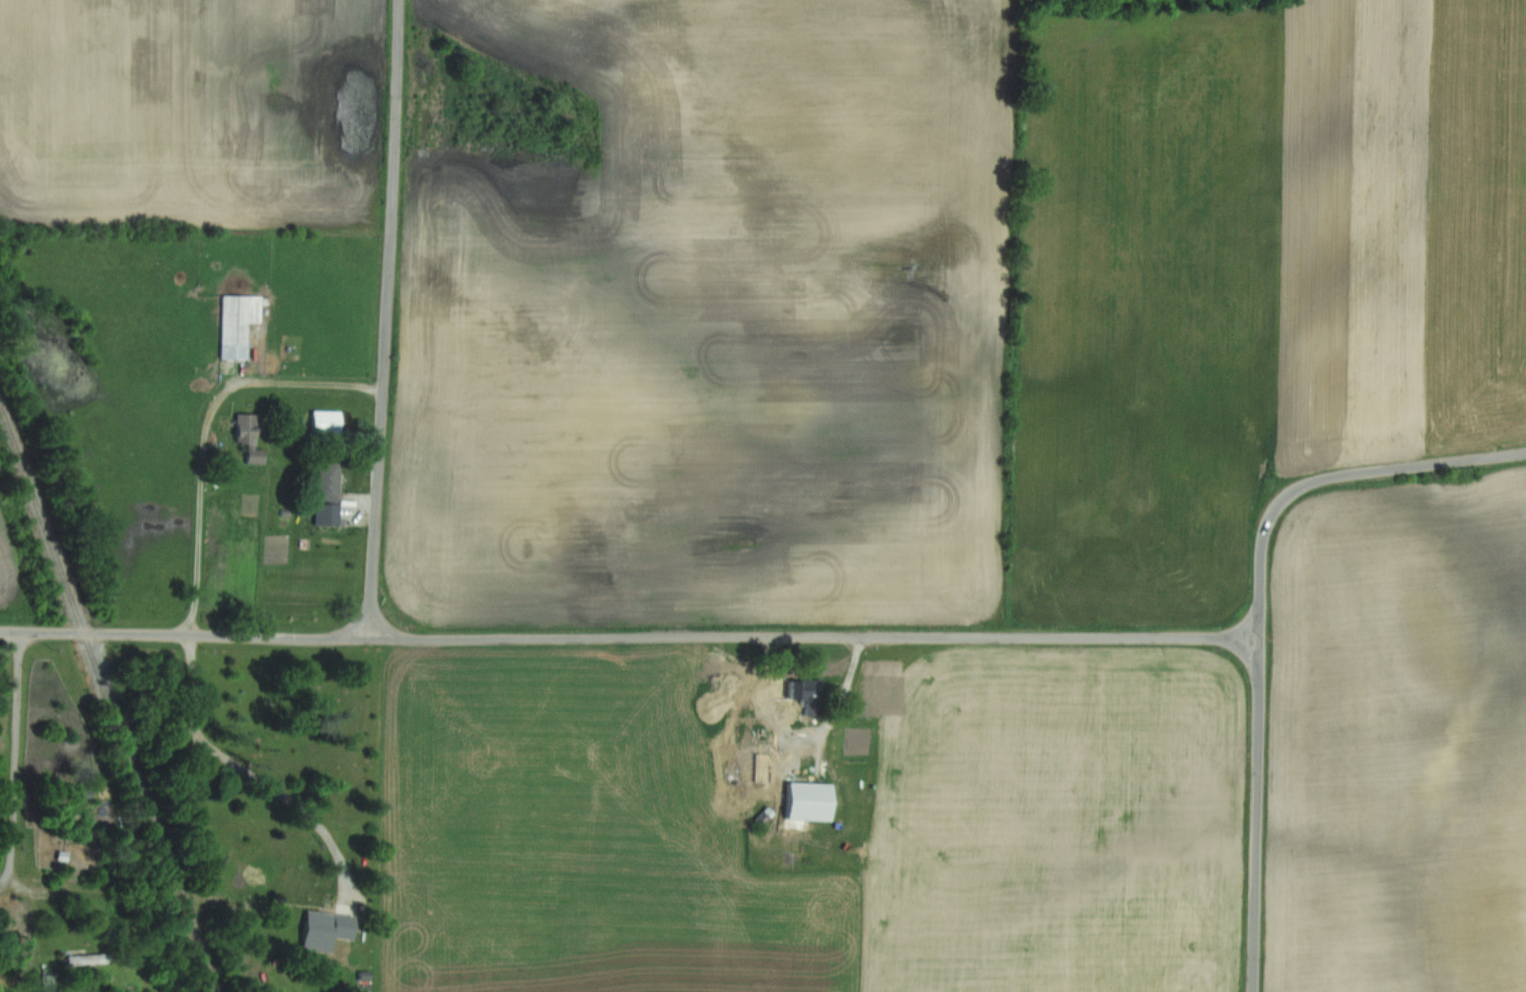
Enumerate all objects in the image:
road: (387, 320)
building: (240, 325)
road: (212, 432)
building: (258, 448)
road: (1331, 478)
building: (331, 481)
road: (630, 640)
building: (812, 698)
railway: (108, 707)
road: (18, 756)
building: (770, 772)
road: (261, 779)
building: (812, 803)
building: (93, 806)
road: (1258, 815)
road: (3, 882)
building: (329, 930)
building: (89, 960)

